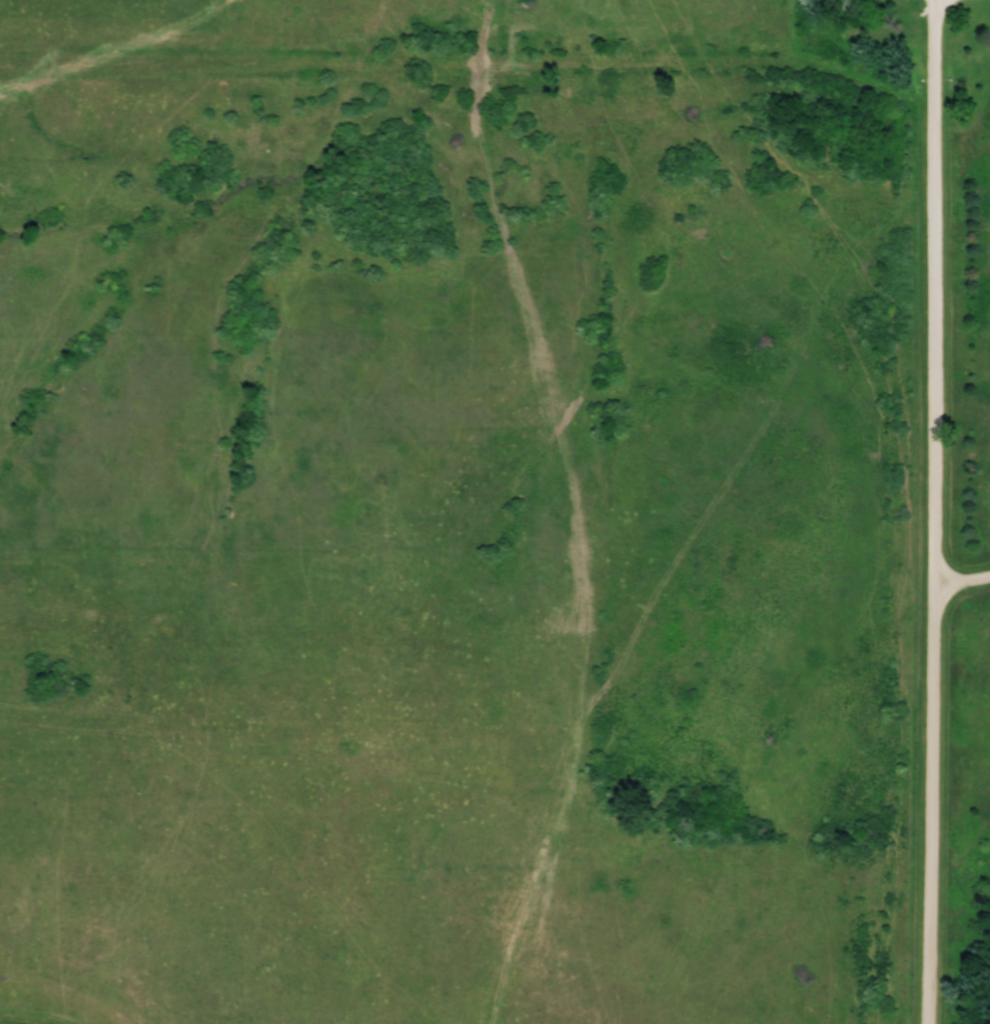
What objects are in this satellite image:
road: (933, 21)
park: (956, 468)
road: (936, 532)
road: (963, 579)

